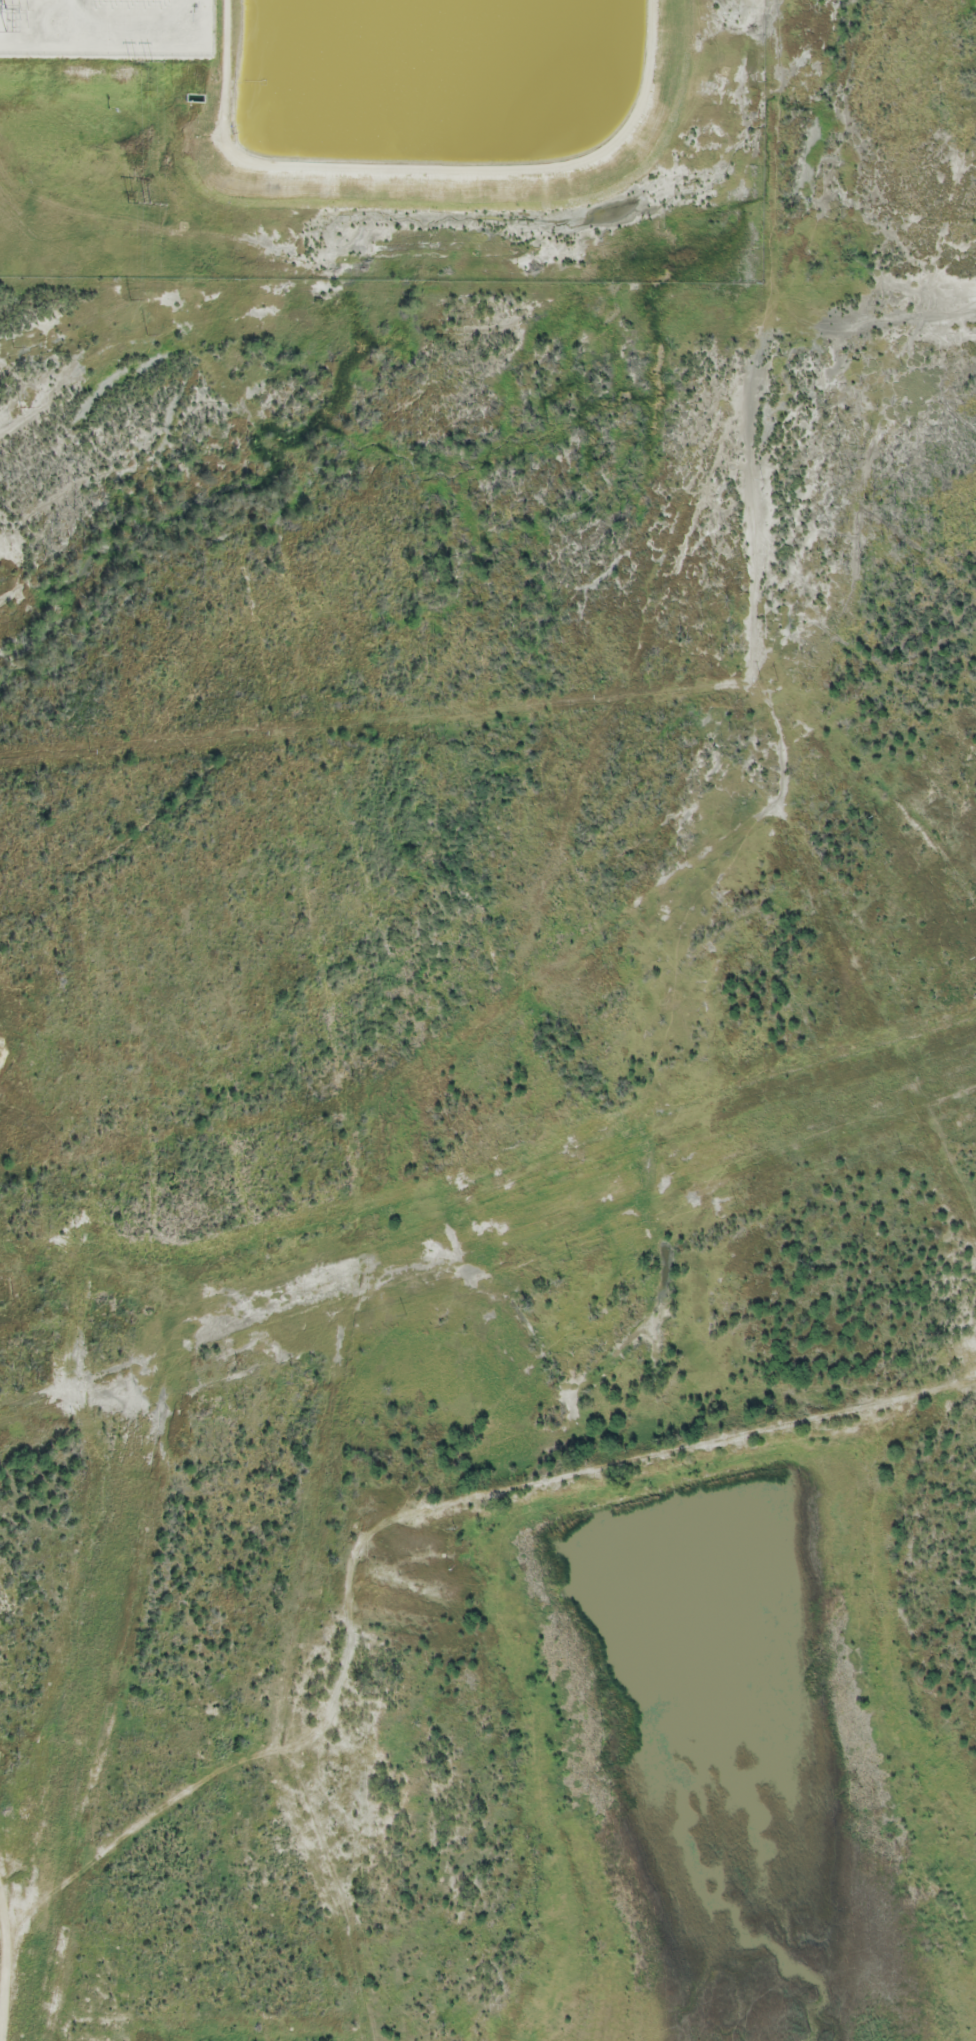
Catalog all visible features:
power substation: (106, 28)
power tower: (149, 63)
power tower: (133, 66)
power plant: (382, 137)
power tower: (132, 203)
power tower: (149, 203)
power tower: (131, 300)
power tower: (147, 334)
power tower: (14, 347)
power tower: (21, 406)
road: (4, 1970)

